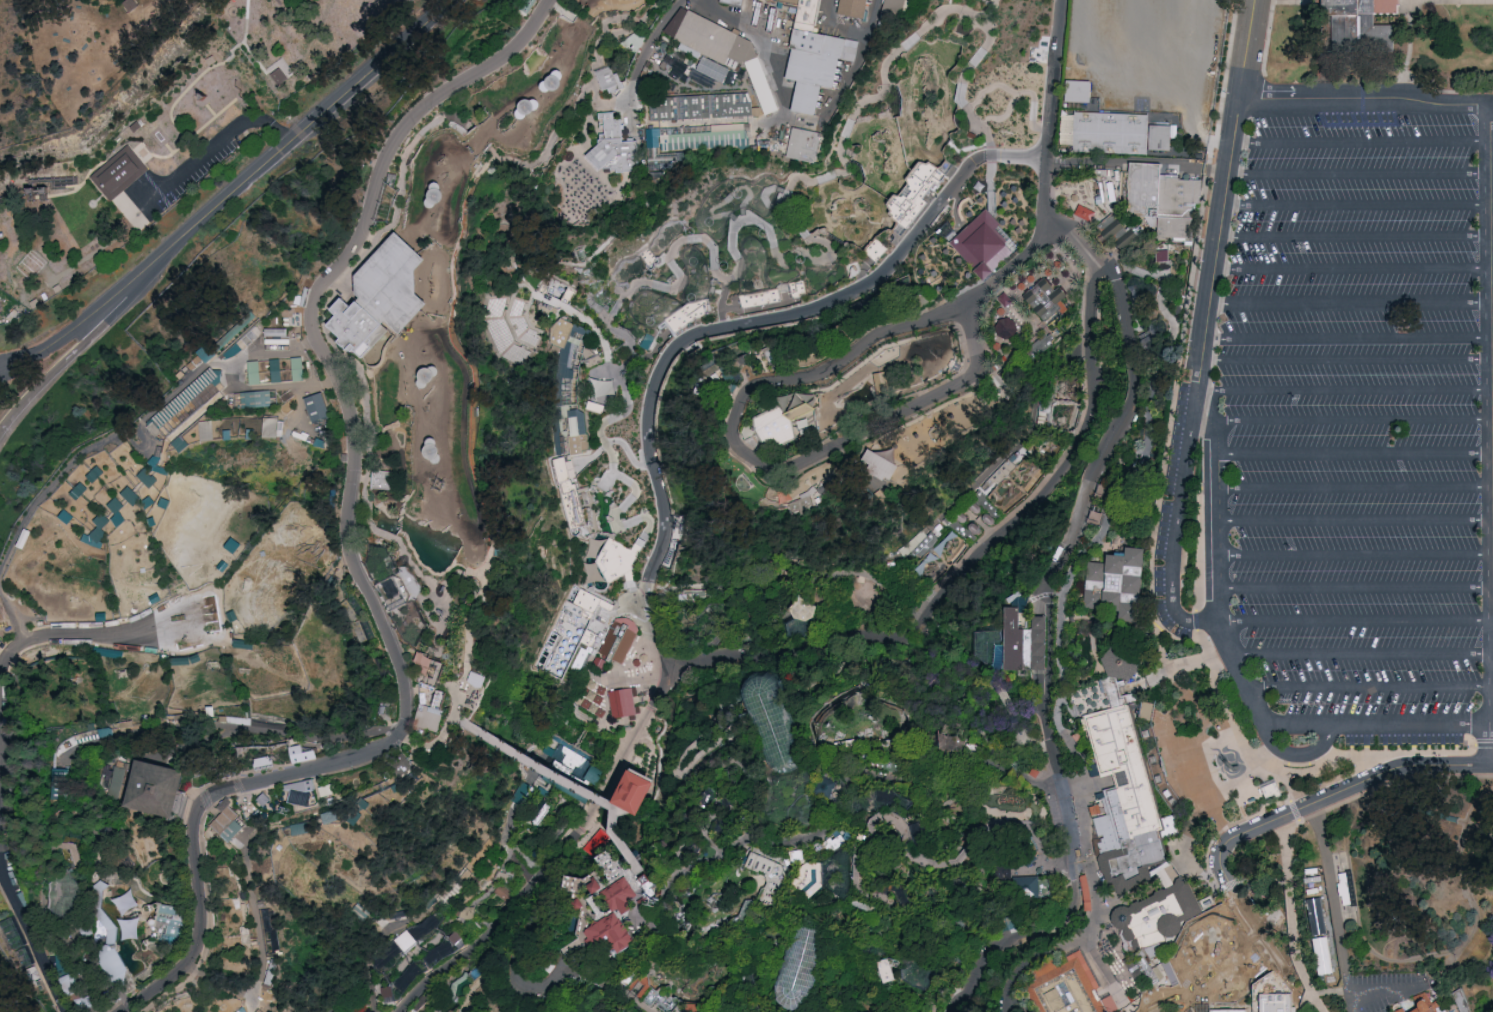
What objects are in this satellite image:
building: (735, 1)
road: (1289, 2)
building: (128, 6)
building: (1385, 6)
building: (852, 9)
building: (894, 12)
building: (1353, 33)
road: (1268, 34)
road: (1410, 38)
building: (712, 43)
road: (760, 46)
building: (811, 56)
road: (640, 60)
road: (255, 61)
road: (1056, 64)
building: (713, 68)
road: (207, 74)
building: (280, 74)
building: (609, 81)
building: (1081, 92)
road: (1014, 93)
road: (583, 95)
road: (611, 103)
road: (1368, 103)
building: (701, 106)
road: (1490, 110)
road: (994, 118)
building: (1111, 133)
building: (474, 136)
road: (580, 137)
road: (480, 139)
building: (689, 143)
road: (1363, 143)
building: (807, 144)
building: (613, 145)
road: (1492, 146)
road: (144, 150)
road: (213, 152)
road: (1360, 175)
road: (1025, 177)
road: (1492, 178)
building: (114, 187)
building: (754, 188)
building: (918, 192)
road: (233, 195)
building: (1164, 200)
road: (1358, 205)
road: (1492, 208)
road: (729, 218)
road: (989, 223)
building: (1116, 230)
road: (1044, 235)
road: (1355, 238)
road: (1492, 242)
building: (984, 244)
road: (1492, 253)
road: (774, 260)
road: (1354, 269)
building: (380, 296)
building: (1047, 303)
road: (1350, 304)
road: (324, 318)
road: (754, 319)
building: (1008, 327)
road: (312, 330)
building: (277, 335)
road: (1348, 339)
building: (1042, 346)
building: (569, 347)
road: (1202, 348)
building: (208, 352)
road: (75, 356)
road: (1346, 361)
building: (298, 368)
building: (277, 370)
road: (1091, 373)
building: (885, 381)
road: (1344, 392)
building: (256, 398)
road: (474, 403)
building: (596, 405)
building: (319, 407)
building: (782, 421)
road: (1351, 421)
building: (270, 426)
parking lot: (1346, 428)
building: (206, 429)
building: (182, 443)
road: (1357, 454)
building: (879, 467)
road: (769, 470)
building: (563, 475)
building: (148, 477)
road: (1133, 477)
road: (359, 479)
building: (380, 480)
road: (1356, 488)
building: (137, 497)
building: (806, 501)
building: (1099, 505)
park: (746, 506)
building: (119, 512)
road: (1356, 521)
road: (1176, 528)
building: (98, 530)
road: (1357, 555)
building: (614, 558)
road: (410, 580)
building: (400, 587)
building: (1115, 588)
road: (1356, 589)
road: (785, 590)
road: (433, 591)
road: (1050, 601)
road: (205, 619)
building: (798, 621)
road: (1078, 622)
road: (1357, 622)
road: (55, 635)
road: (650, 639)
building: (573, 642)
road: (1201, 642)
road: (1092, 643)
building: (617, 645)
building: (1023, 646)
road: (1161, 654)
road: (1364, 654)
road: (435, 656)
building: (1119, 662)
road: (676, 668)
building: (429, 671)
road: (1089, 675)
road: (419, 677)
building: (478, 679)
road: (670, 679)
building: (451, 684)
road: (1370, 688)
building: (623, 702)
road: (1223, 706)
road: (1010, 714)
road: (387, 715)
building: (429, 716)
road: (454, 718)
building: (773, 723)
road: (447, 724)
road: (1153, 725)
road: (1341, 727)
road: (1296, 728)
building: (107, 731)
road: (1113, 731)
road: (1068, 740)
road: (731, 743)
road: (1483, 745)
road: (1242, 746)
road: (1208, 749)
building: (300, 753)
road: (1329, 758)
road: (533, 759)
building: (262, 761)
road: (1380, 761)
road: (1029, 763)
building: (400, 764)
building: (570, 768)
road: (209, 769)
road: (1162, 769)
road: (685, 772)
building: (1033, 773)
road: (1132, 775)
road: (227, 777)
road: (1178, 777)
road: (632, 778)
road: (634, 779)
road: (630, 782)
road: (959, 782)
road: (631, 783)
road: (638, 783)
building: (630, 784)
road: (1387, 786)
building: (155, 788)
road: (627, 788)
road: (628, 788)
road: (1090, 789)
building: (327, 790)
building: (299, 792)
road: (256, 793)
road: (662, 793)
building: (643, 794)
building: (1126, 799)
building: (262, 800)
road: (262, 800)
road: (632, 803)
building: (224, 804)
road: (244, 804)
railway: (1475, 804)
road: (1303, 807)
road: (305, 808)
road: (1296, 811)
aerialway pylon: (292, 812)
road: (180, 814)
building: (352, 815)
road: (194, 818)
road: (203, 818)
road: (76, 819)
building: (223, 820)
road: (570, 820)
road: (1211, 822)
railway: (1461, 824)
building: (300, 827)
building: (592, 829)
building: (231, 830)
road: (1028, 831)
railway: (1480, 831)
road: (1055, 837)
road: (817, 838)
road: (863, 840)
road: (626, 850)
road: (860, 856)
road: (524, 859)
road: (1200, 868)
road: (909, 874)
building: (814, 876)
road: (611, 877)
road: (613, 877)
building: (769, 882)
road: (1159, 884)
road: (1330, 889)
road: (1218, 890)
building: (502, 891)
building: (617, 892)
building: (1030, 892)
building: (1085, 893)
road: (41, 899)
building: (68, 900)
road: (1109, 901)
railway: (1348, 901)
building: (643, 902)
aerialway pylon: (667, 902)
building: (467, 911)
road: (467, 911)
road: (469, 915)
building: (1156, 918)
building: (168, 921)
road: (255, 921)
road: (653, 922)
road: (647, 924)
road: (480, 926)
building: (605, 929)
building: (131, 930)
road: (1297, 934)
building: (78, 935)
road: (381, 936)
road: (1026, 937)
road: (31, 939)
building: (405, 940)
road: (1282, 948)
road: (564, 949)
road: (411, 950)
building: (429, 961)
railway: (1382, 961)
aerialway pylon: (896, 962)
road: (1034, 962)
building: (803, 967)
road: (219, 981)
building: (69, 984)
road: (456, 985)
road: (1384, 987)
parking lot: (1385, 989)
building: (1066, 990)
building: (389, 993)
road: (1349, 995)
road: (716, 996)
road: (628, 999)
road: (1406, 999)
building: (1441, 1000)
road: (352, 1002)
building: (84, 1003)
road: (1448, 1003)
road: (373, 1004)
road: (1316, 1004)
building: (1414, 1010)
building: (1400, 1011)
road: (1411, 1011)

